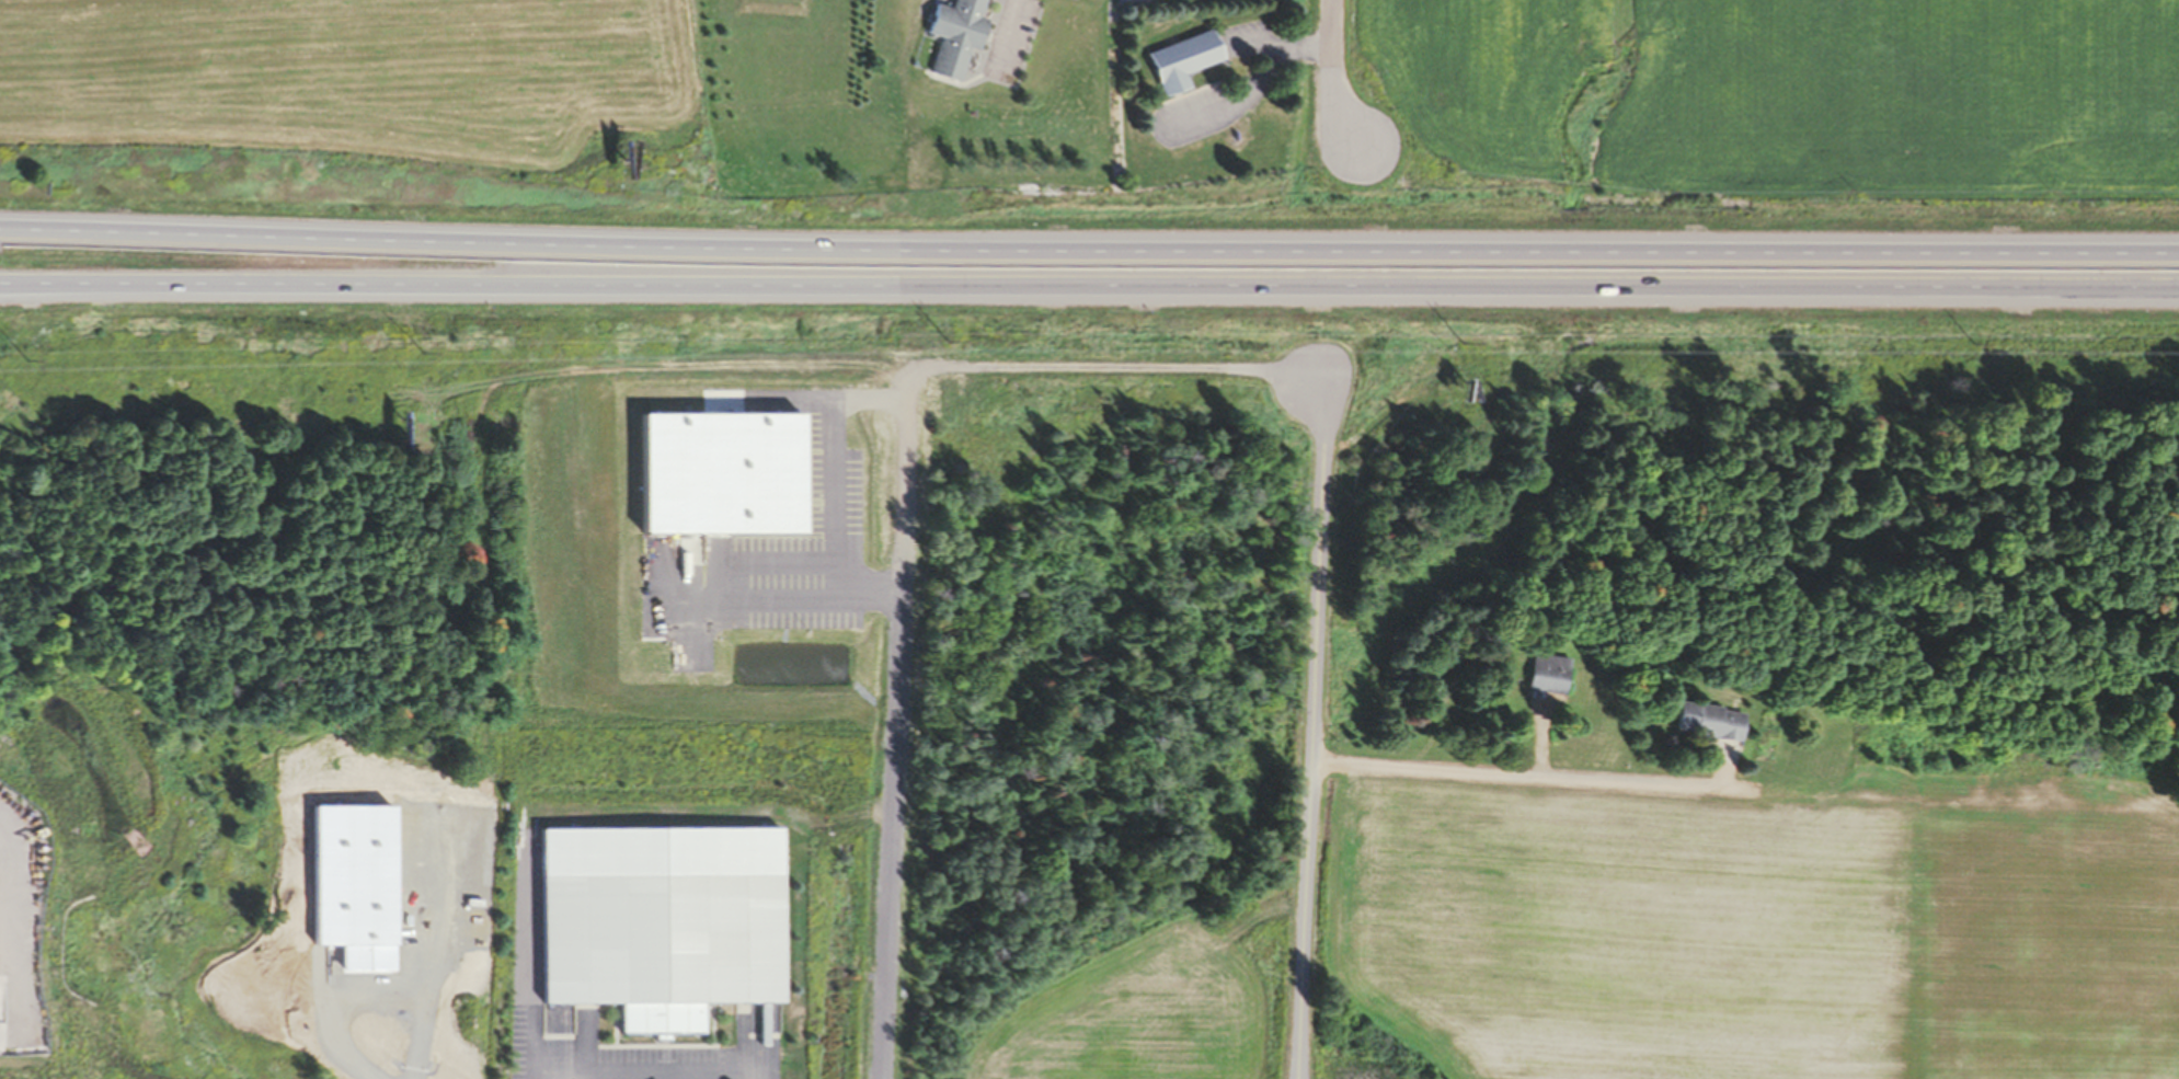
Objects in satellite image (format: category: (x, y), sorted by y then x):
road: (1009, 32)
building: (954, 34)
building: (1183, 59)
road: (1327, 78)
road: (1255, 87)
road: (1089, 249)
road: (1089, 288)
power tower: (944, 340)
power tower: (1460, 340)
power tower: (1974, 341)
power tower: (418, 348)
power tower: (25, 359)
building: (848, 388)
road: (909, 523)
building: (1547, 673)
quarry: (1910, 696)
building: (1708, 721)
road: (1312, 723)
building: (660, 921)
crop: (1157, 1006)
quarry: (1960, 1006)

